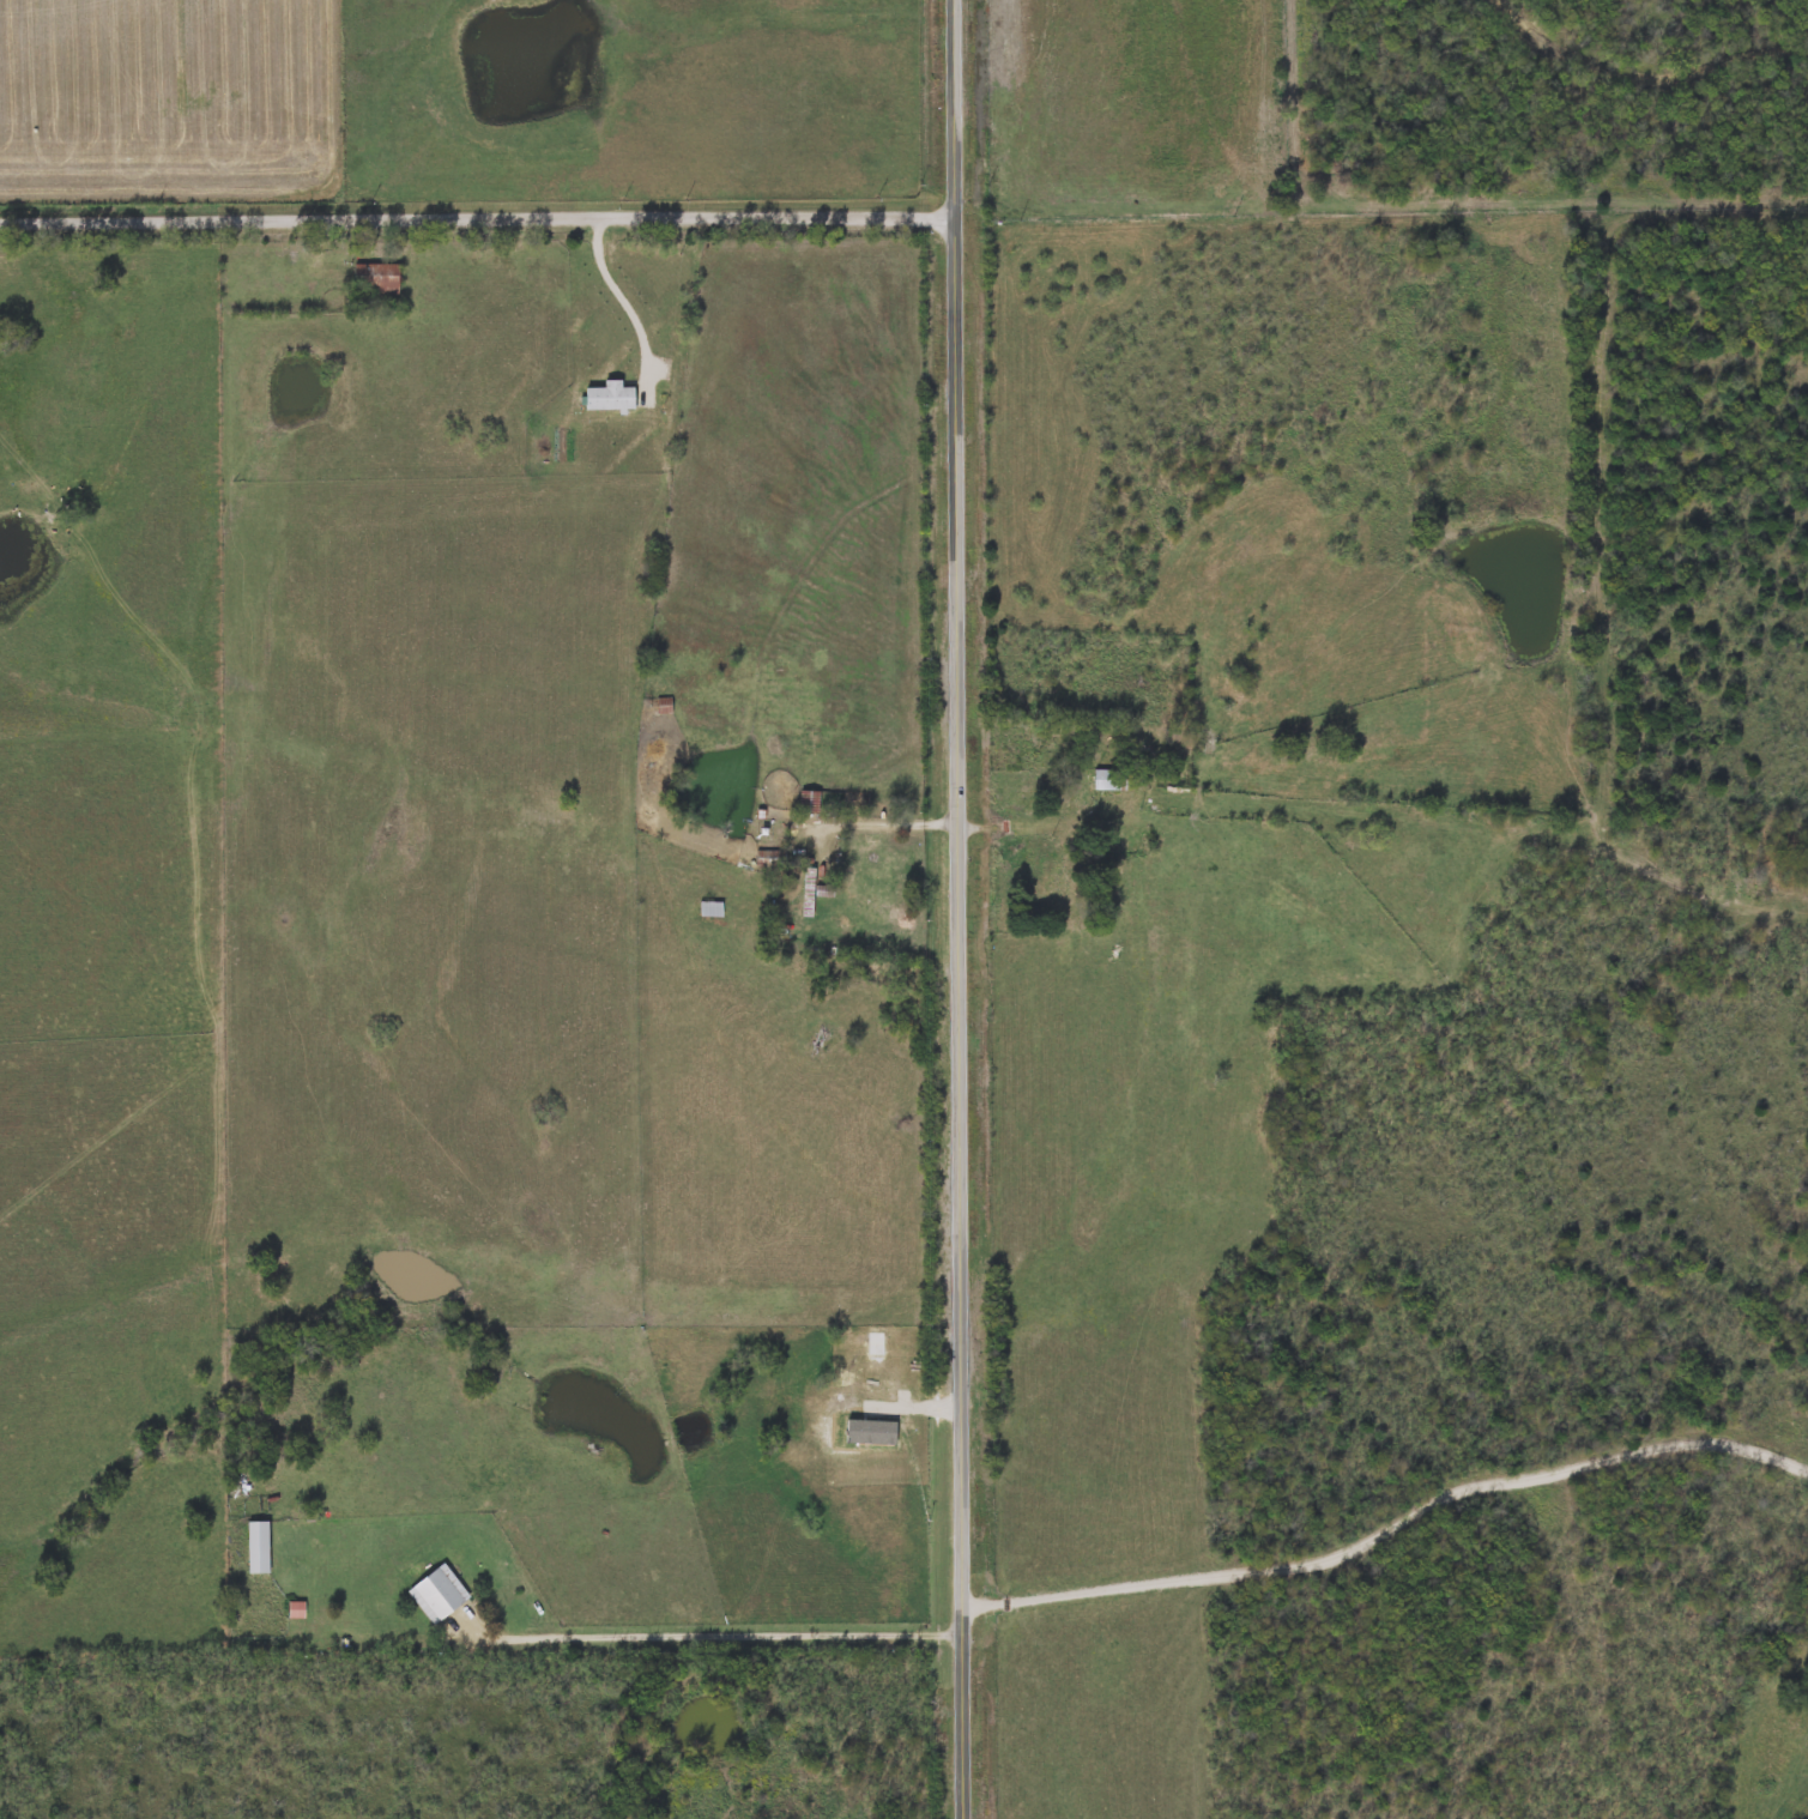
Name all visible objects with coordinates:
road: (478, 217)
building: (376, 278)
road: (624, 303)
building: (1159, 737)
building: (1108, 779)
building: (808, 802)
road: (973, 827)
building: (769, 858)
building: (877, 872)
building: (1057, 882)
building: (709, 908)
road: (957, 909)
road: (1389, 1533)
building: (256, 1546)
building: (437, 1593)
road: (713, 1637)

